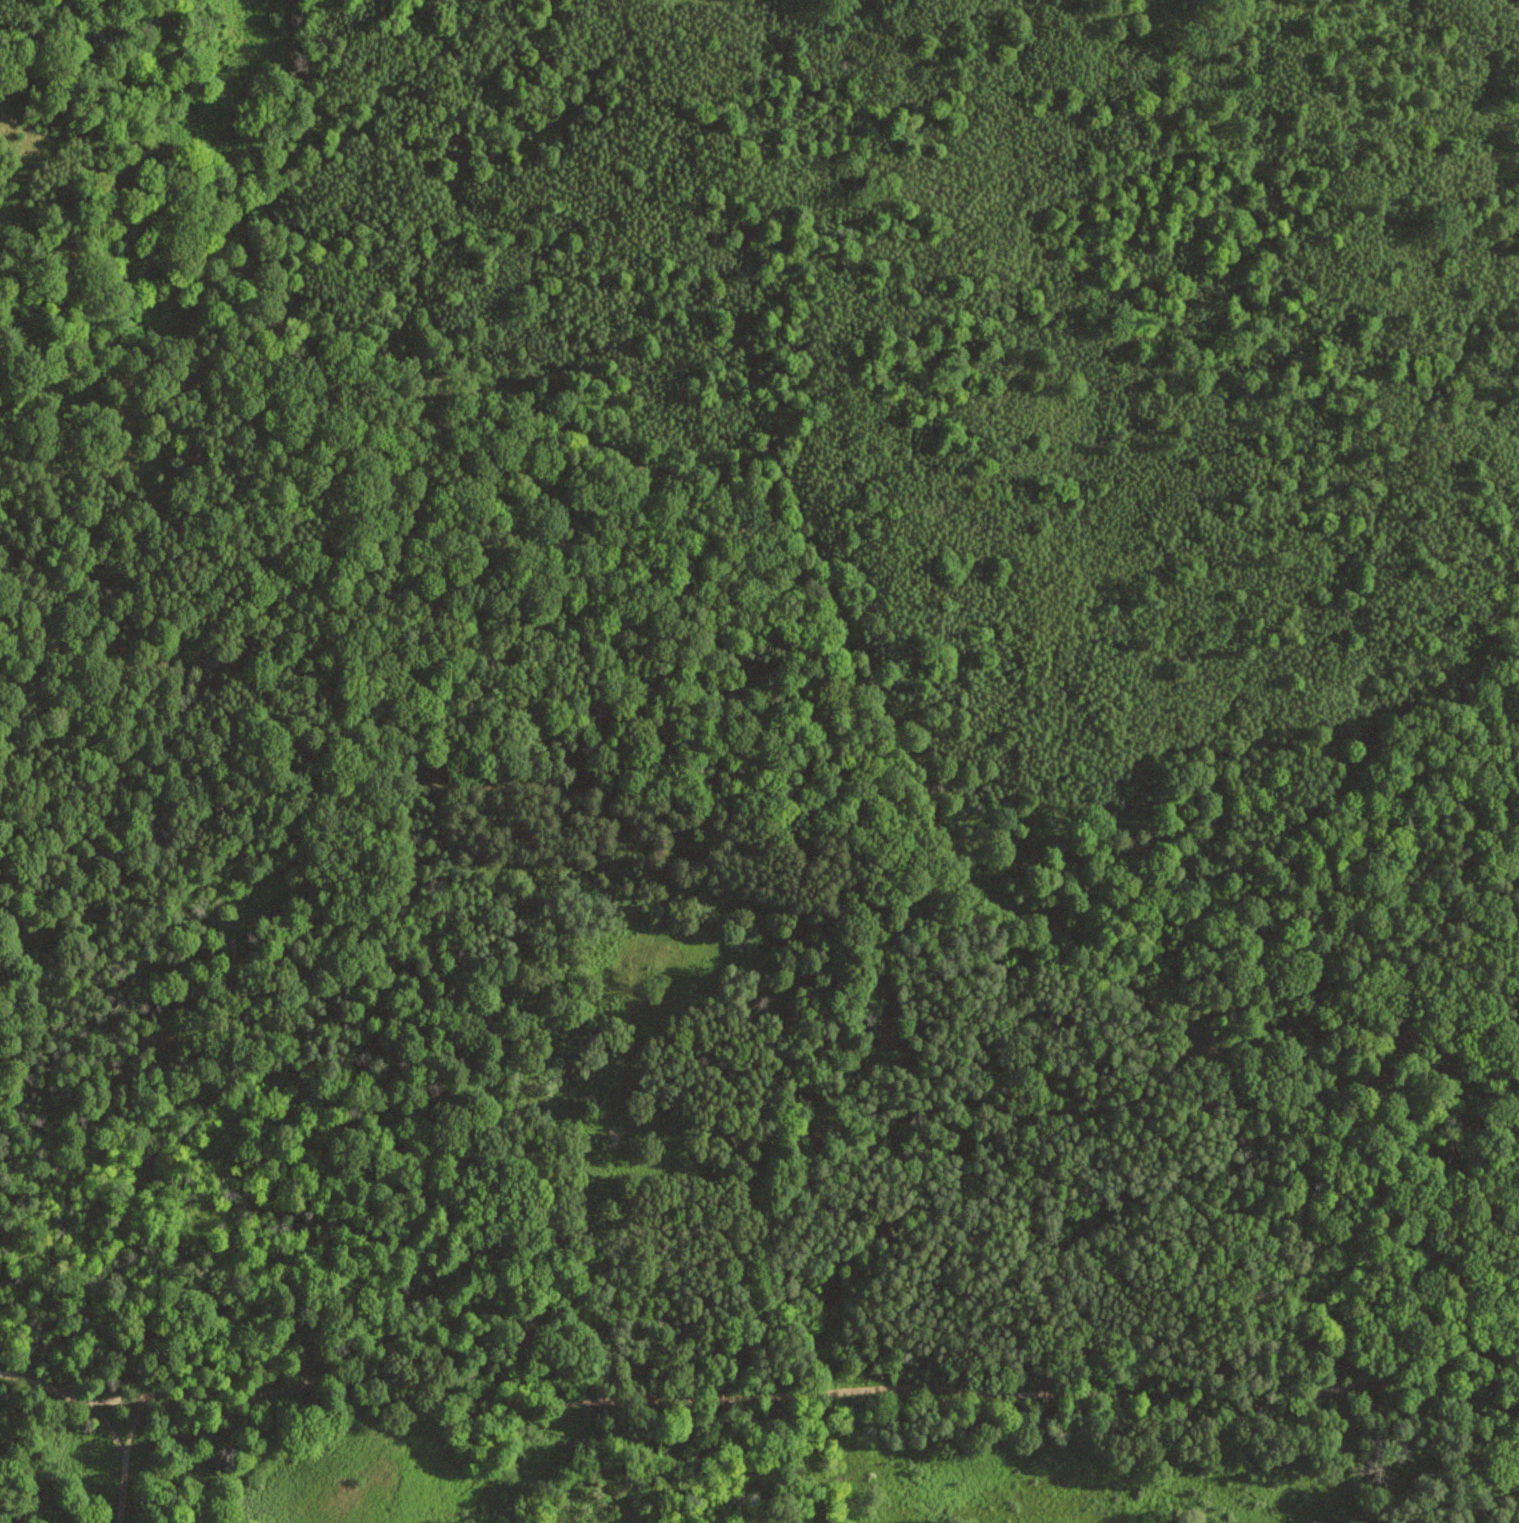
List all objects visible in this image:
road: (147, 389)
road: (576, 432)
road: (231, 635)
road: (799, 804)
road: (94, 1001)
road: (1363, 1040)
road: (741, 1197)
road: (208, 1294)
road: (760, 1394)
road: (126, 1457)

